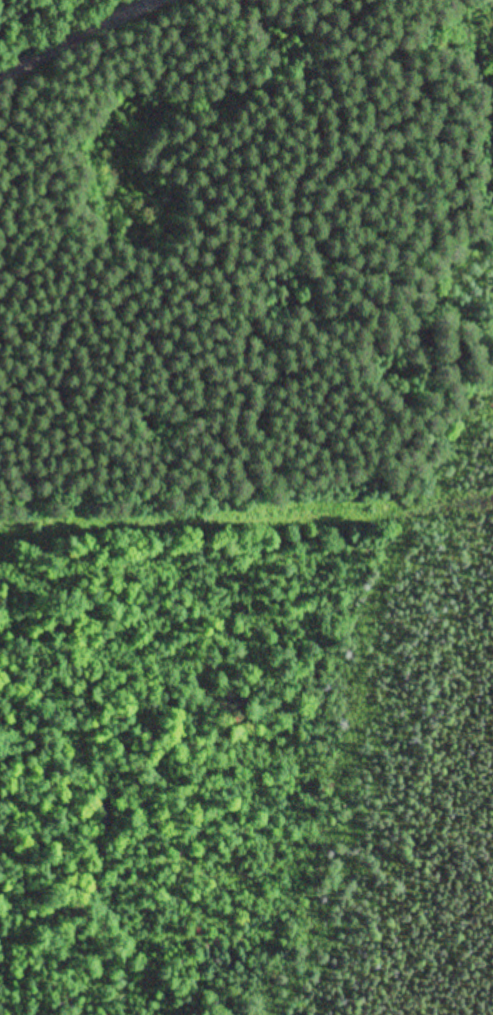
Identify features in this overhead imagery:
road: (77, 36)

